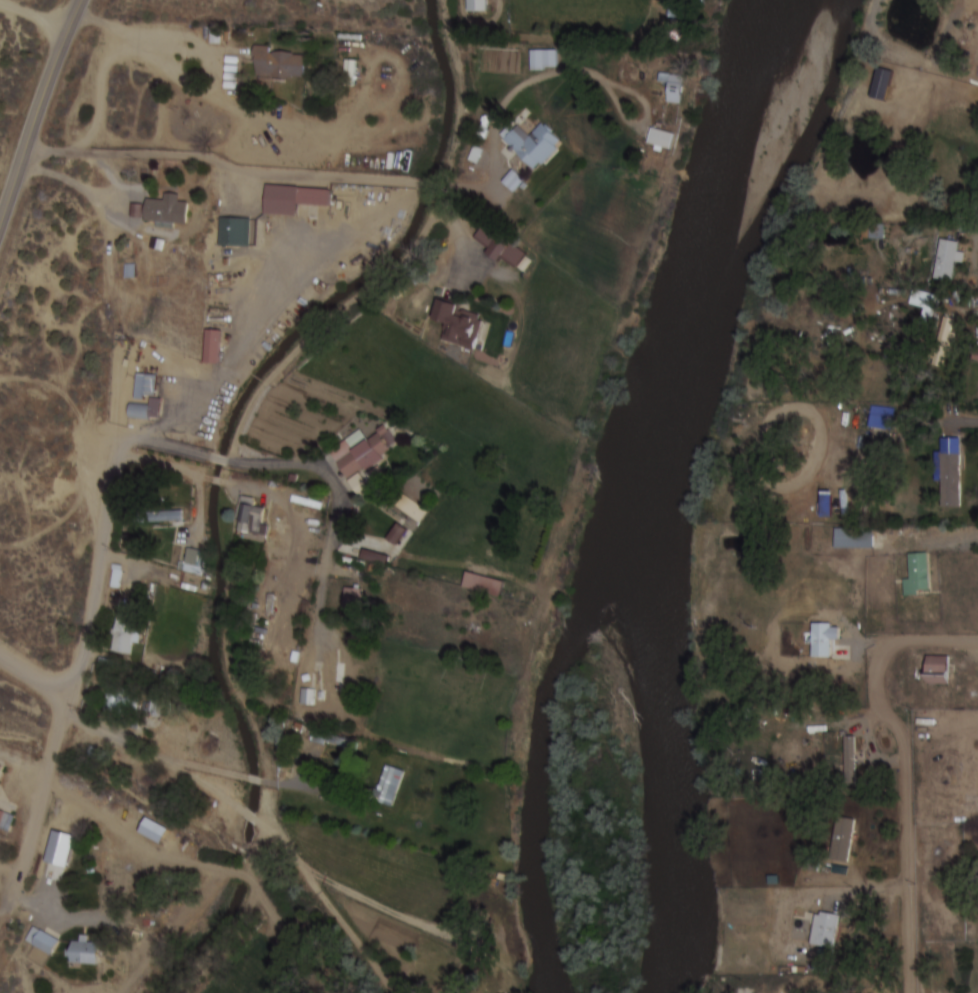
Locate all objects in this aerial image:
building: (477, 6)
road: (34, 17)
building: (545, 60)
building: (280, 64)
building: (882, 84)
building: (674, 86)
road: (39, 111)
building: (661, 141)
building: (533, 145)
building: (294, 200)
building: (167, 212)
building: (878, 233)
building: (233, 234)
building: (504, 249)
building: (949, 260)
building: (929, 305)
building: (459, 324)
building: (213, 346)
building: (940, 358)
building: (145, 398)
building: (364, 459)
road: (220, 460)
building: (951, 473)
river: (642, 487)
building: (413, 508)
building: (169, 516)
building: (251, 519)
road: (334, 519)
road: (108, 523)
building: (398, 534)
building: (854, 540)
building: (376, 557)
building: (192, 564)
building: (919, 574)
building: (485, 585)
building: (354, 601)
building: (126, 633)
building: (824, 640)
building: (938, 671)
road: (33, 677)
building: (332, 687)
building: (308, 699)
building: (335, 742)
building: (851, 755)
river: (538, 765)
building: (1, 769)
road: (904, 770)
building: (389, 785)
road: (39, 807)
building: (844, 839)
building: (977, 875)
building: (826, 929)
building: (44, 941)
building: (85, 952)

